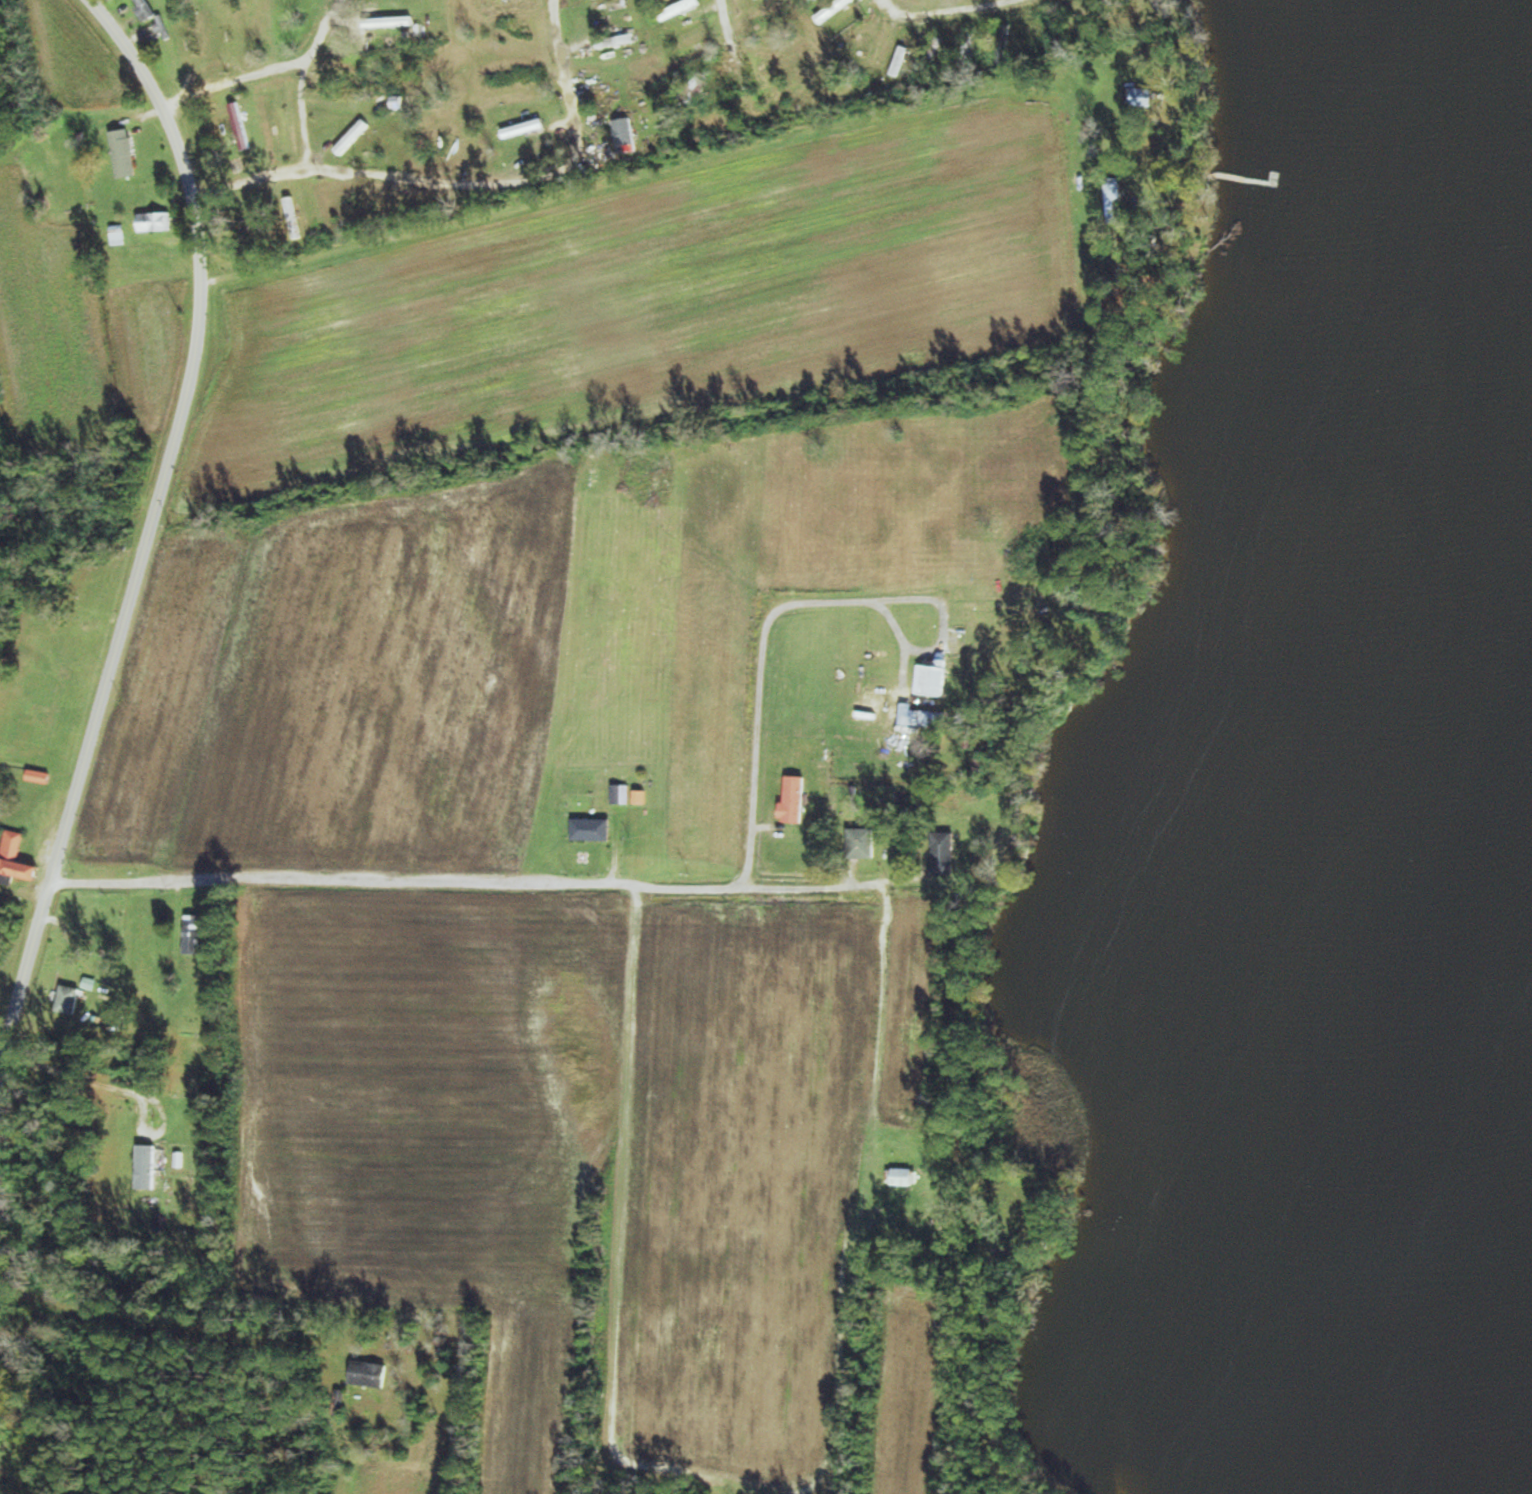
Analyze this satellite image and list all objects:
building: (147, 9)
building: (681, 9)
building: (833, 10)
building: (389, 22)
building: (237, 26)
building: (771, 27)
building: (194, 34)
building: (851, 39)
building: (616, 41)
building: (1005, 43)
building: (689, 44)
building: (971, 48)
building: (936, 55)
building: (901, 61)
building: (772, 68)
building: (618, 88)
building: (866, 88)
building: (355, 91)
building: (693, 93)
building: (1144, 97)
building: (282, 119)
building: (241, 126)
building: (525, 129)
building: (627, 136)
building: (354, 137)
road: (730, 152)
building: (125, 153)
building: (1114, 198)
building: (158, 221)
building: (120, 235)
road: (149, 537)
building: (935, 680)
building: (931, 719)
building: (41, 777)
building: (622, 794)
building: (796, 800)
building: (594, 829)
building: (863, 844)
building: (944, 854)
building: (16, 861)
road: (497, 879)
building: (195, 934)
building: (70, 999)
road: (880, 1001)
road: (232, 1091)
building: (149, 1167)
building: (904, 1177)
building: (371, 1374)

